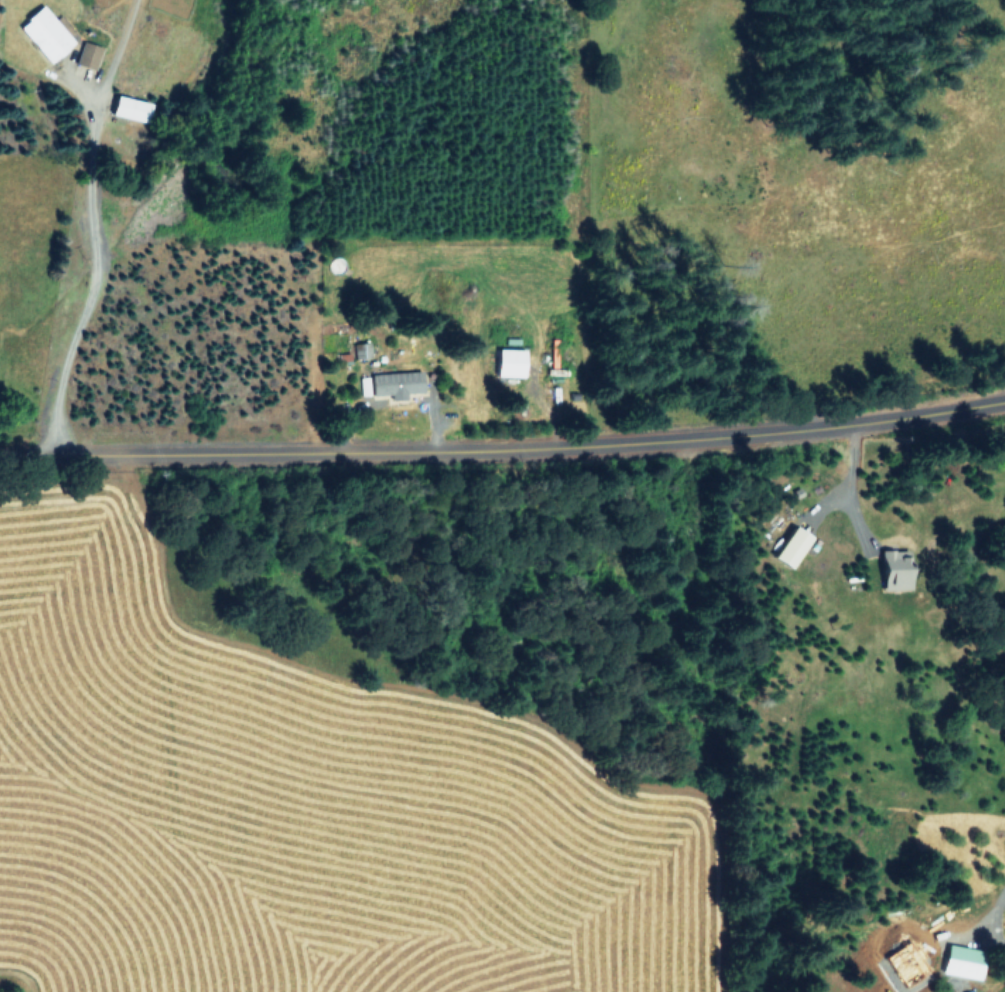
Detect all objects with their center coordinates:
building: (45, 34)
building: (88, 55)
building: (130, 109)
road: (81, 224)
building: (510, 362)
building: (397, 383)
road: (534, 454)
road: (30, 455)
building: (791, 546)
building: (896, 569)
crop: (254, 692)
building: (965, 961)

